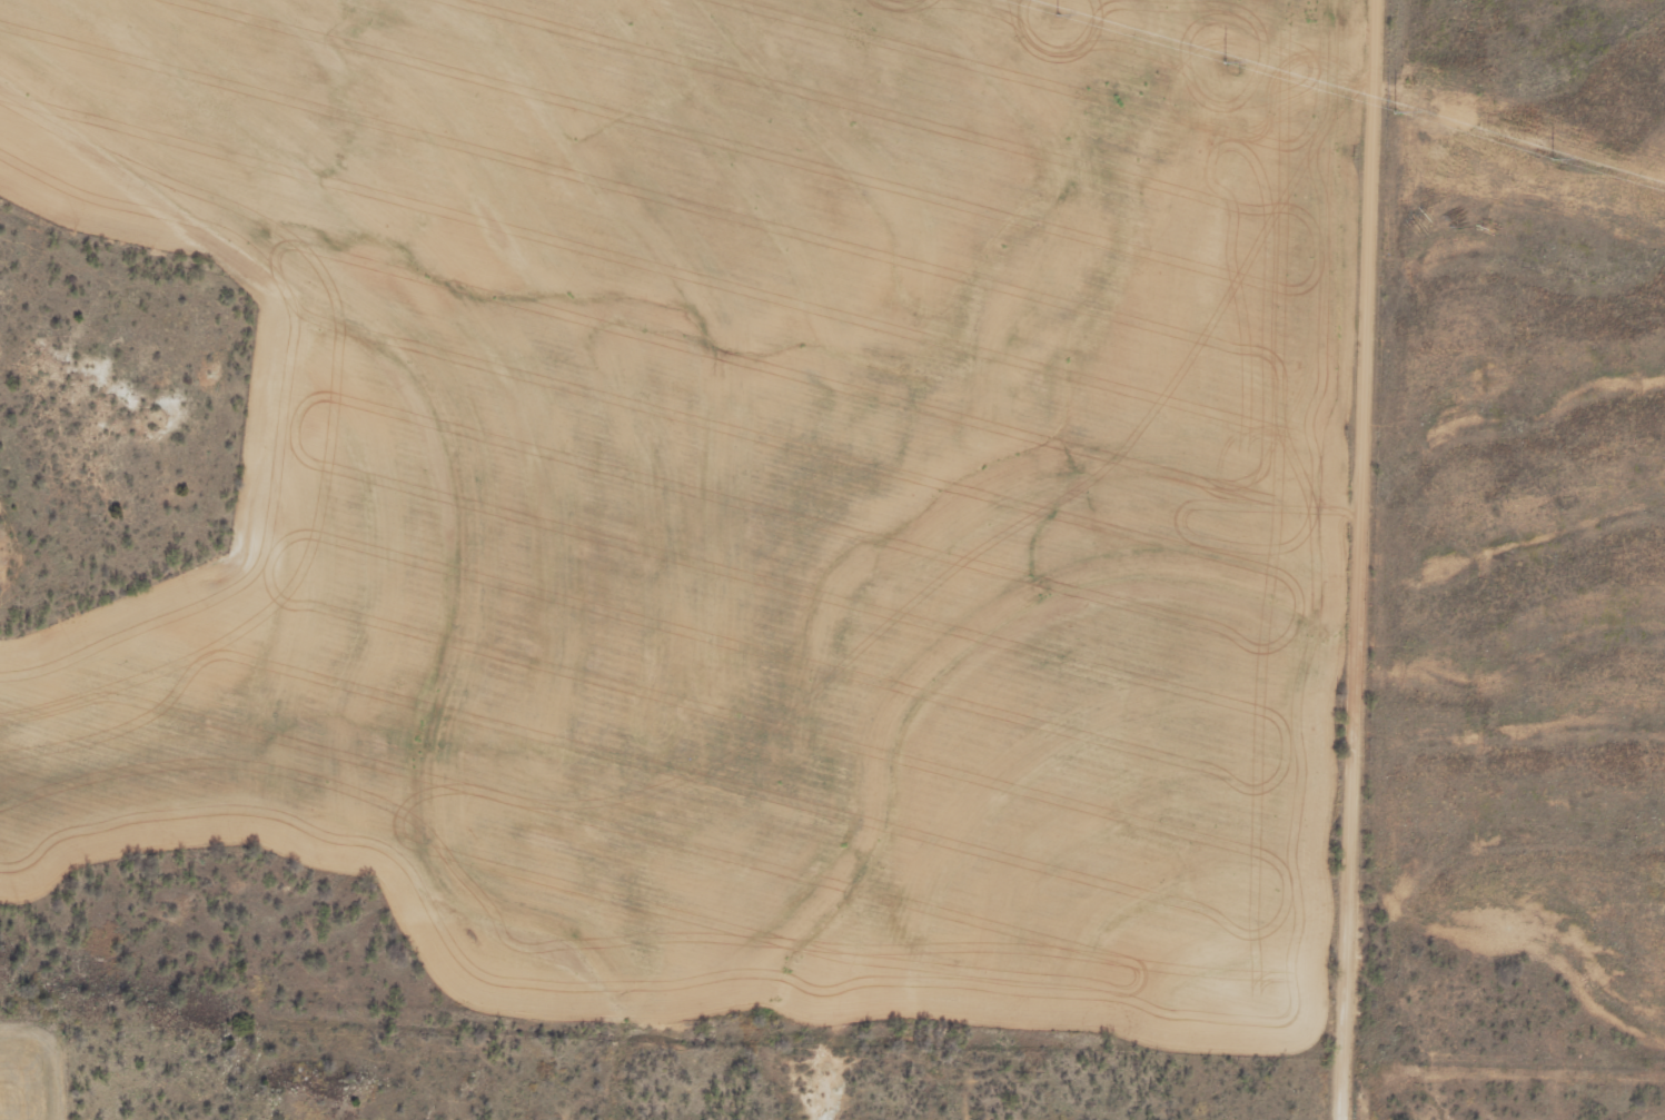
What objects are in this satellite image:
road: (1364, 559)

